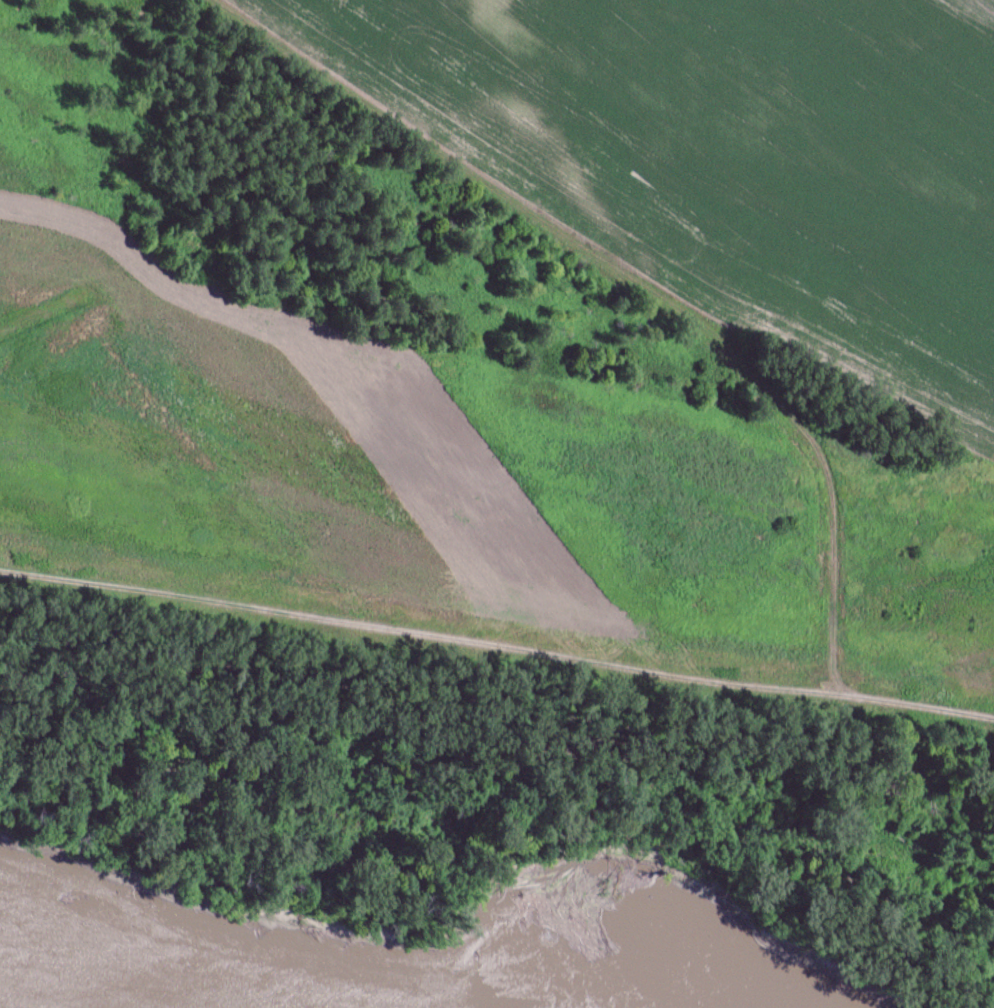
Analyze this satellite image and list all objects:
road: (496, 646)

